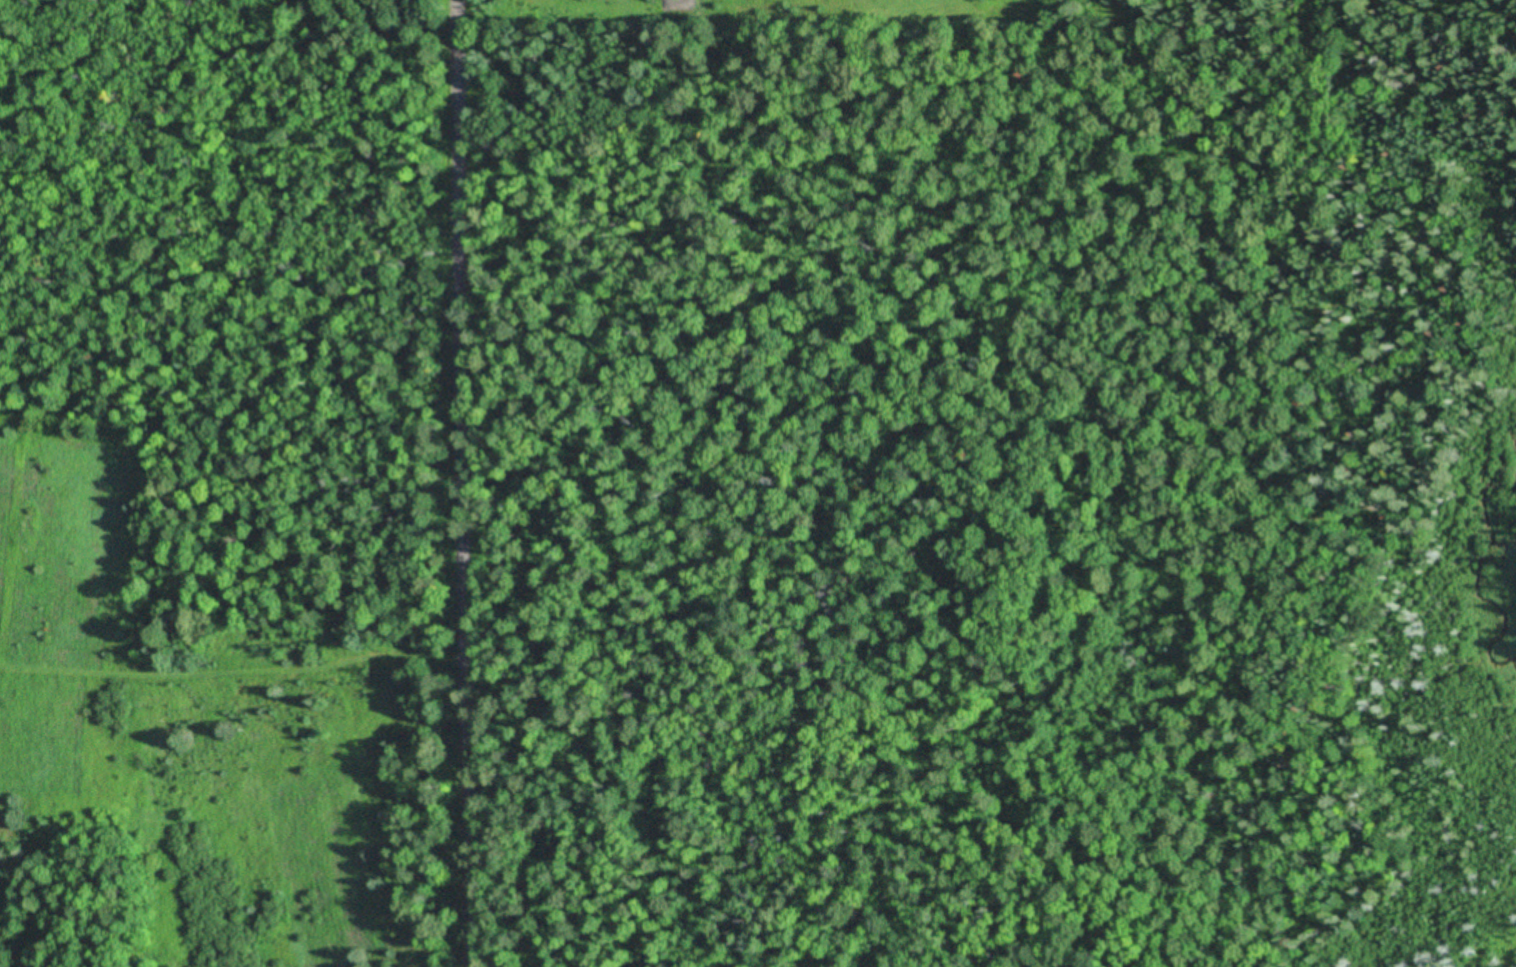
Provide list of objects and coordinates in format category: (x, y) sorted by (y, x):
road: (470, 483)

